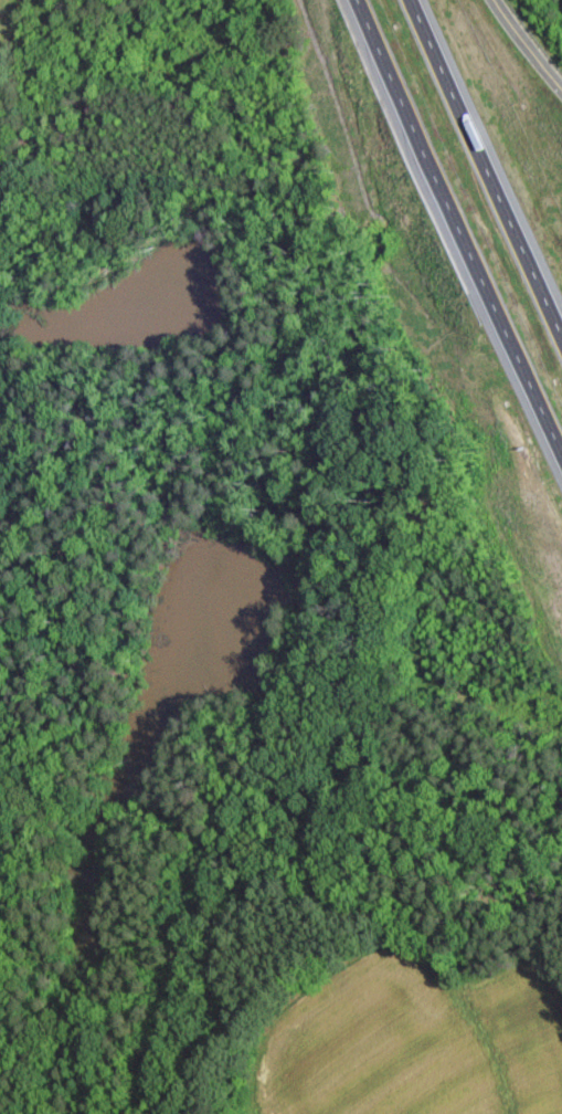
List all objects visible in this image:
road: (530, 43)
road: (485, 169)
road: (458, 229)

